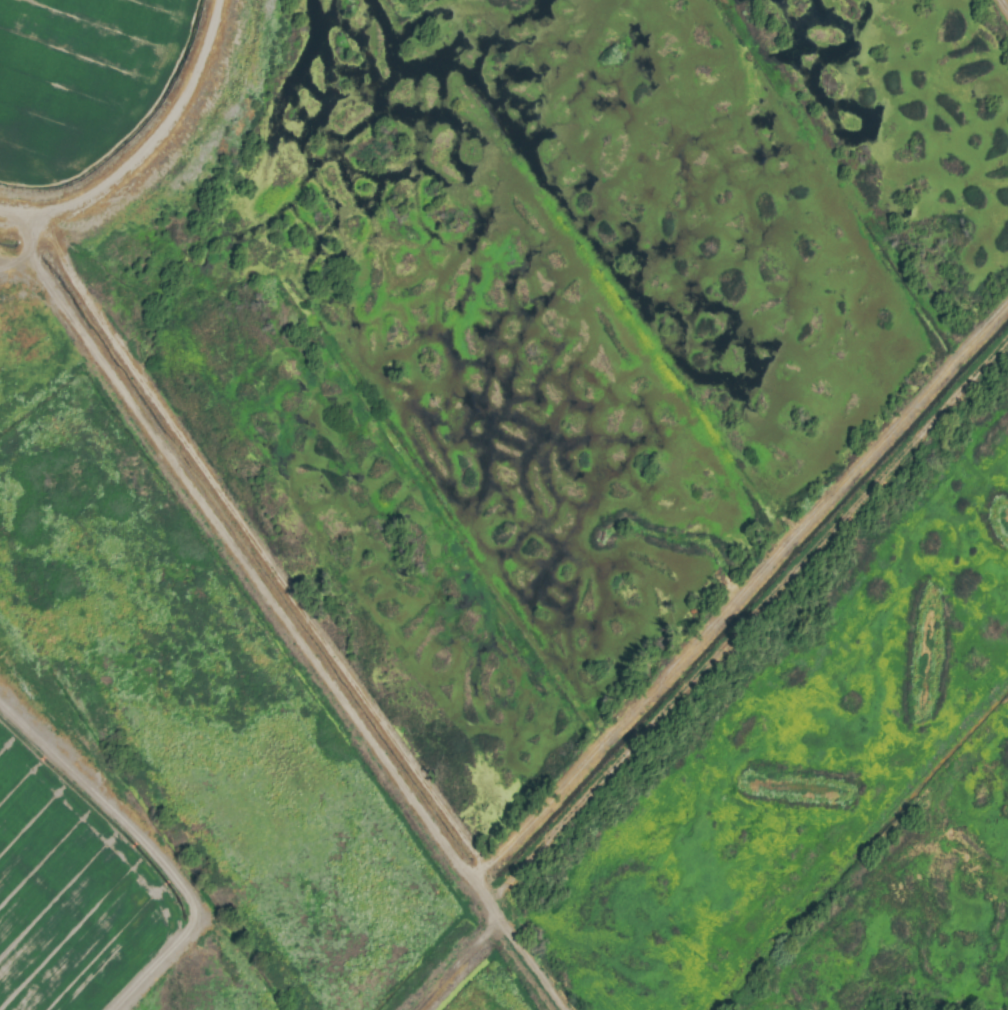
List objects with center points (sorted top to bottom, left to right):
crop: (504, 505)

